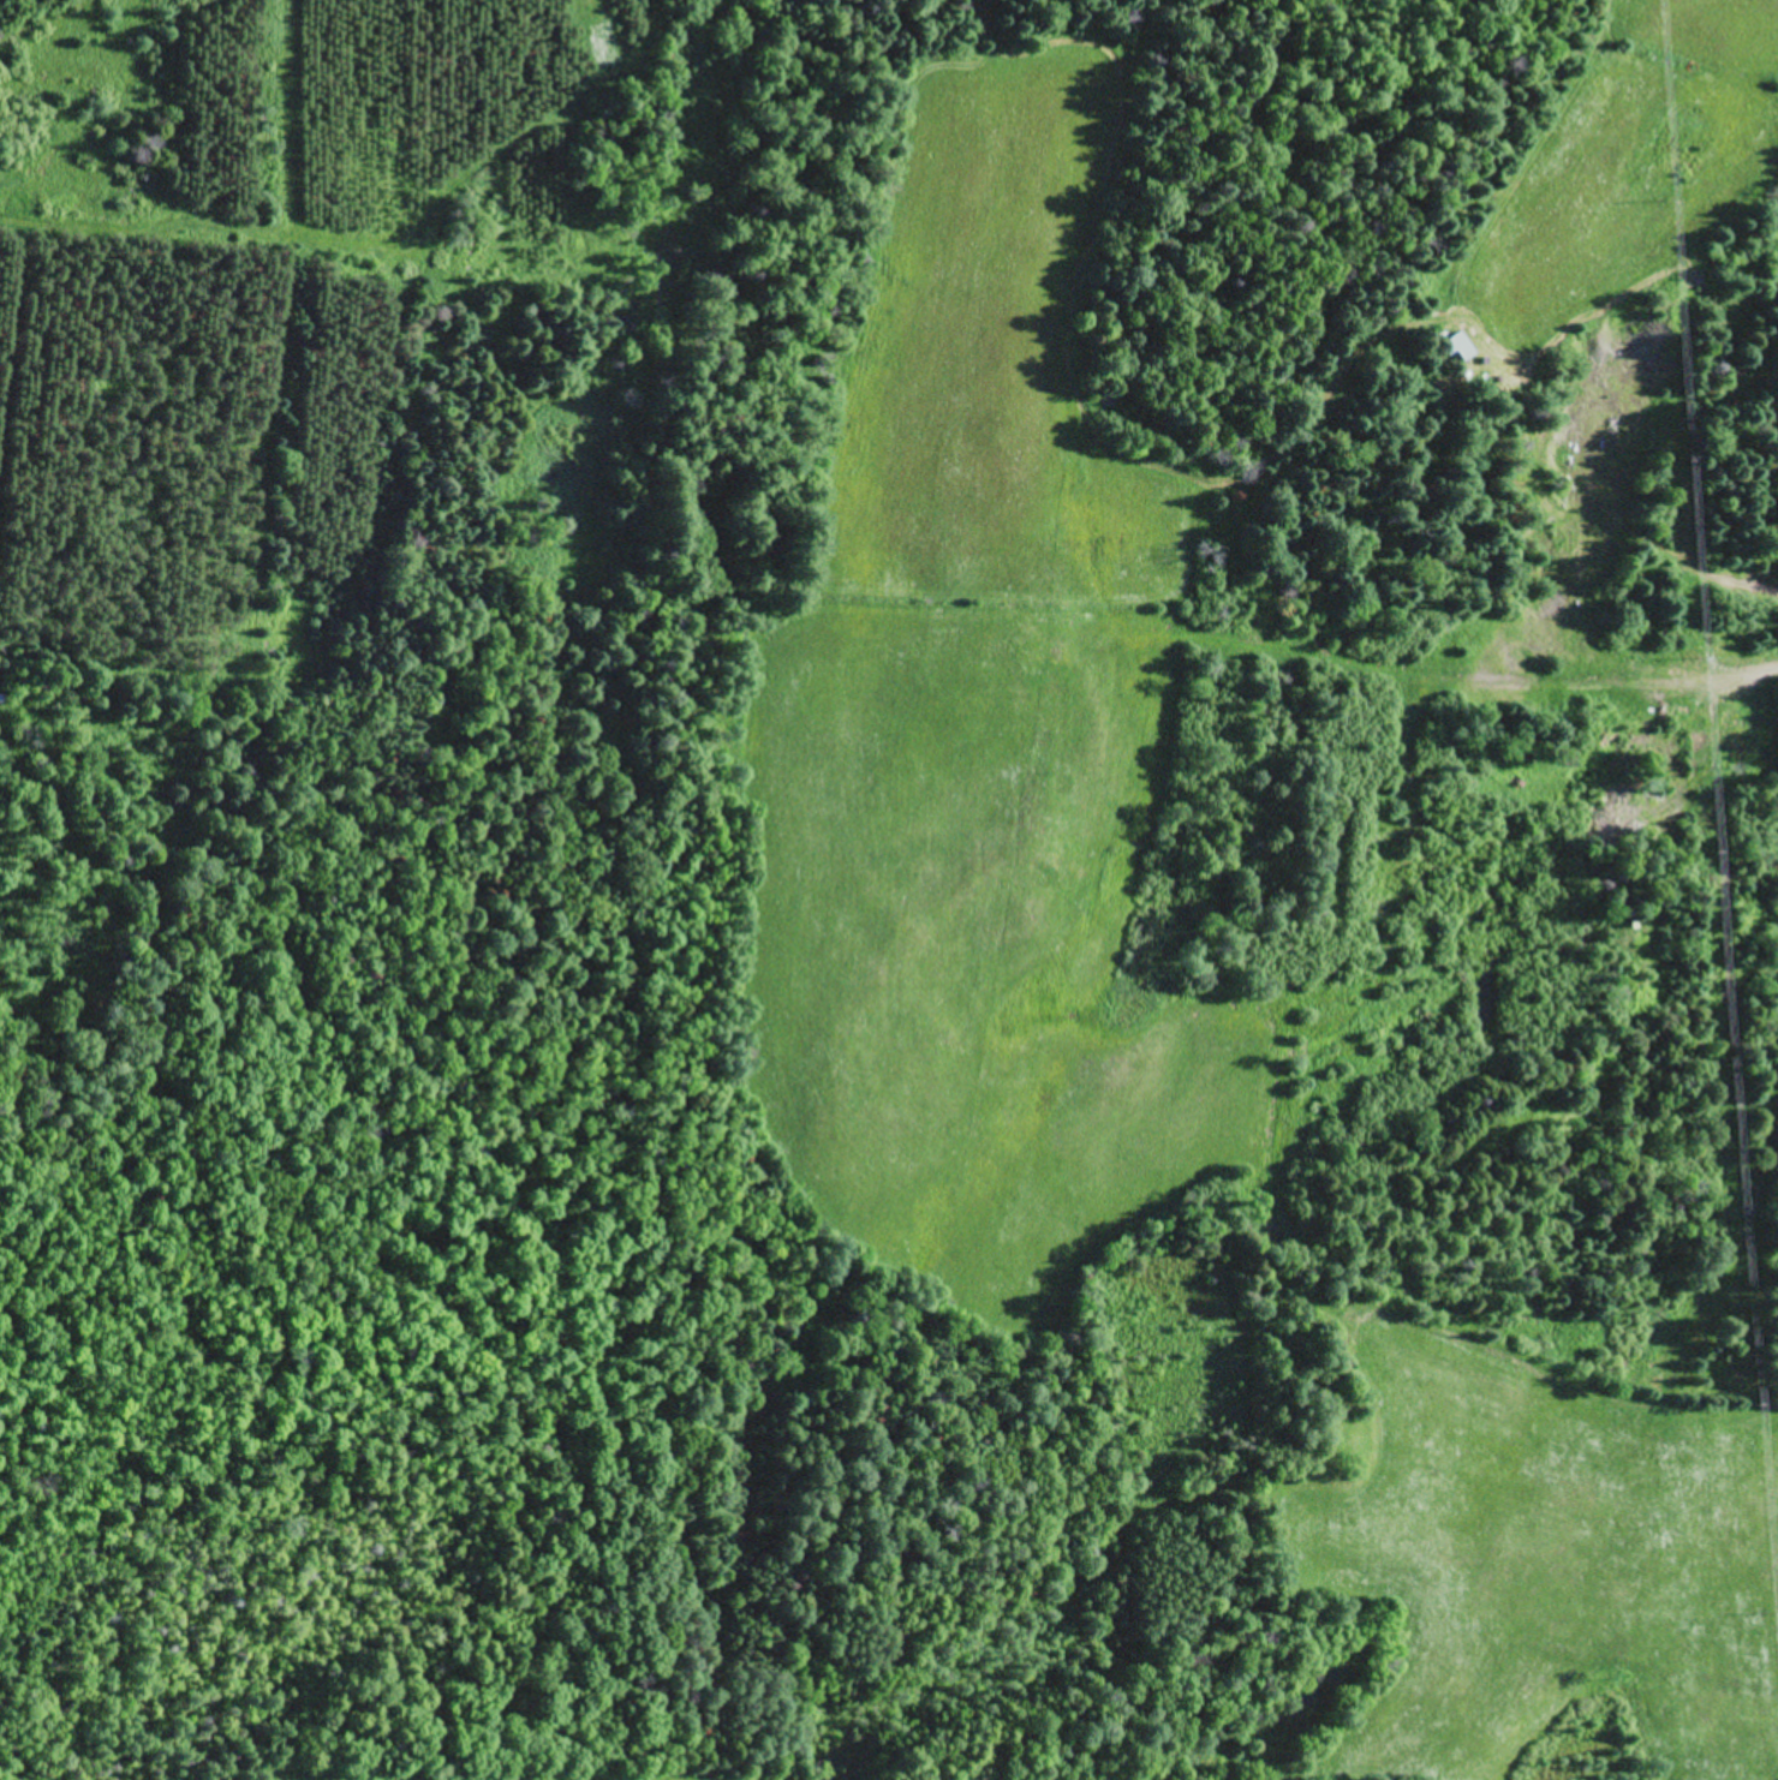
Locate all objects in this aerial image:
building: (1458, 347)
road: (1623, 665)

